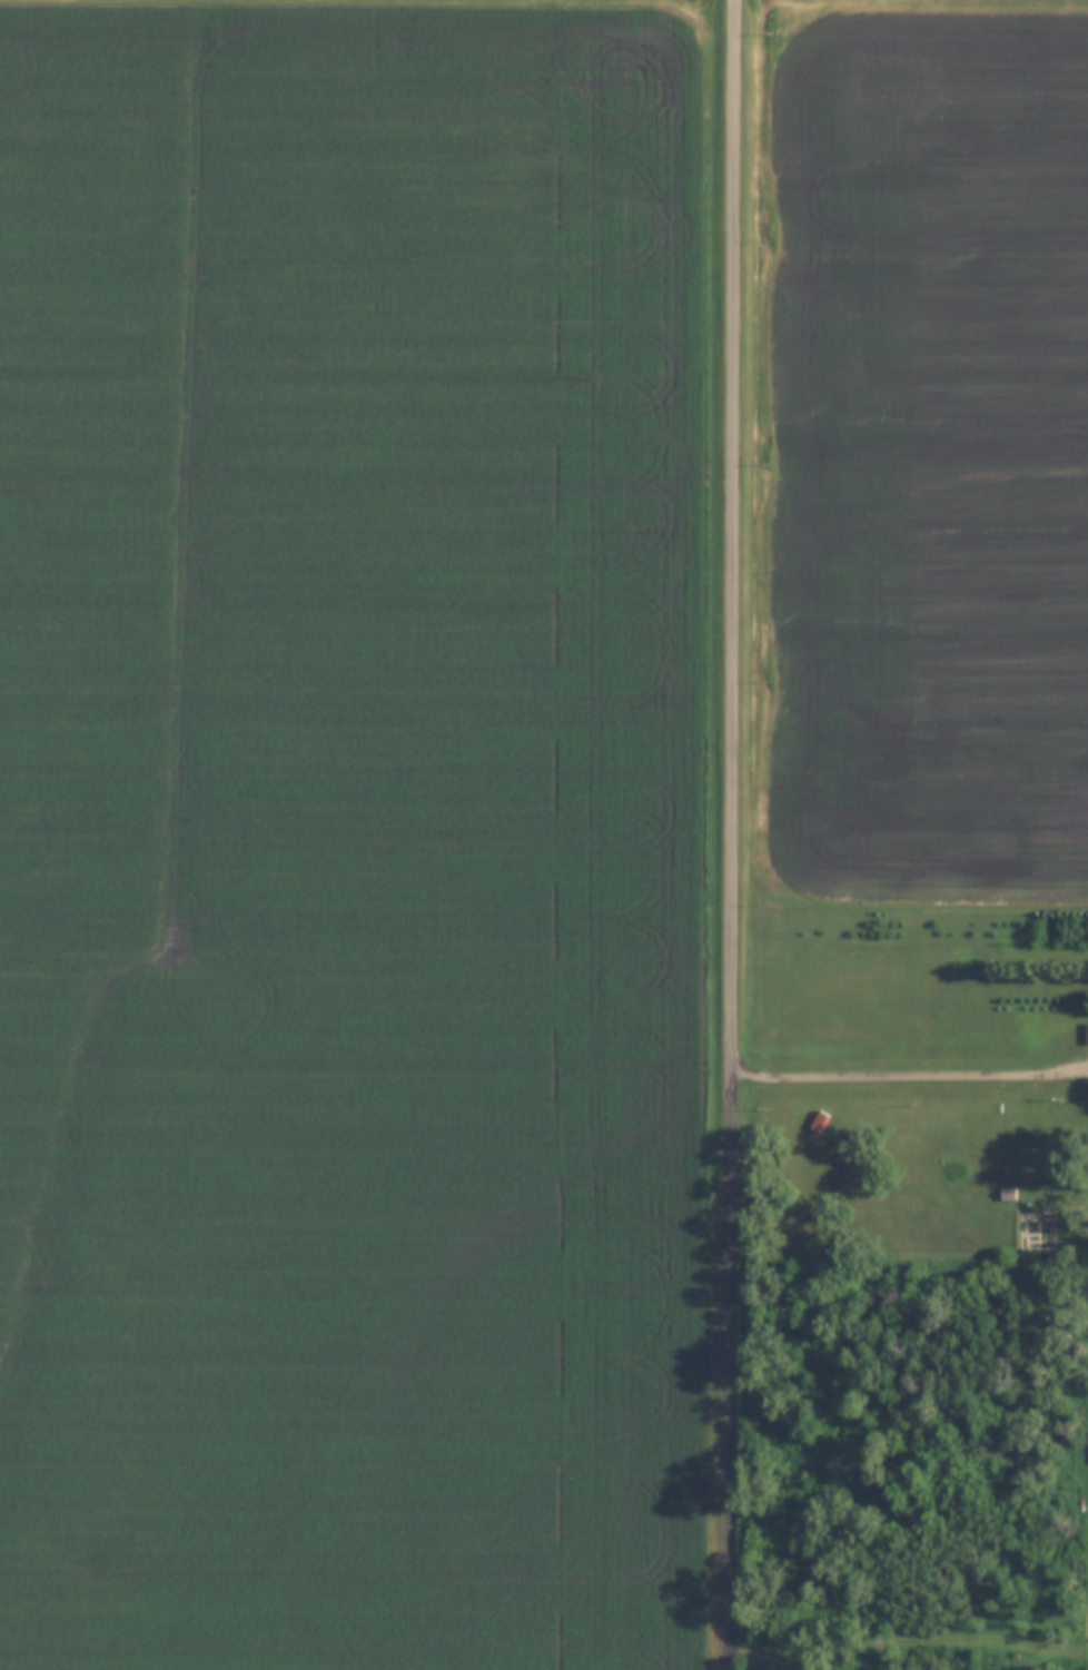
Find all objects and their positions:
road: (728, 537)
building: (1087, 1032)
road: (908, 1075)
building: (820, 1121)
road: (724, 1372)

